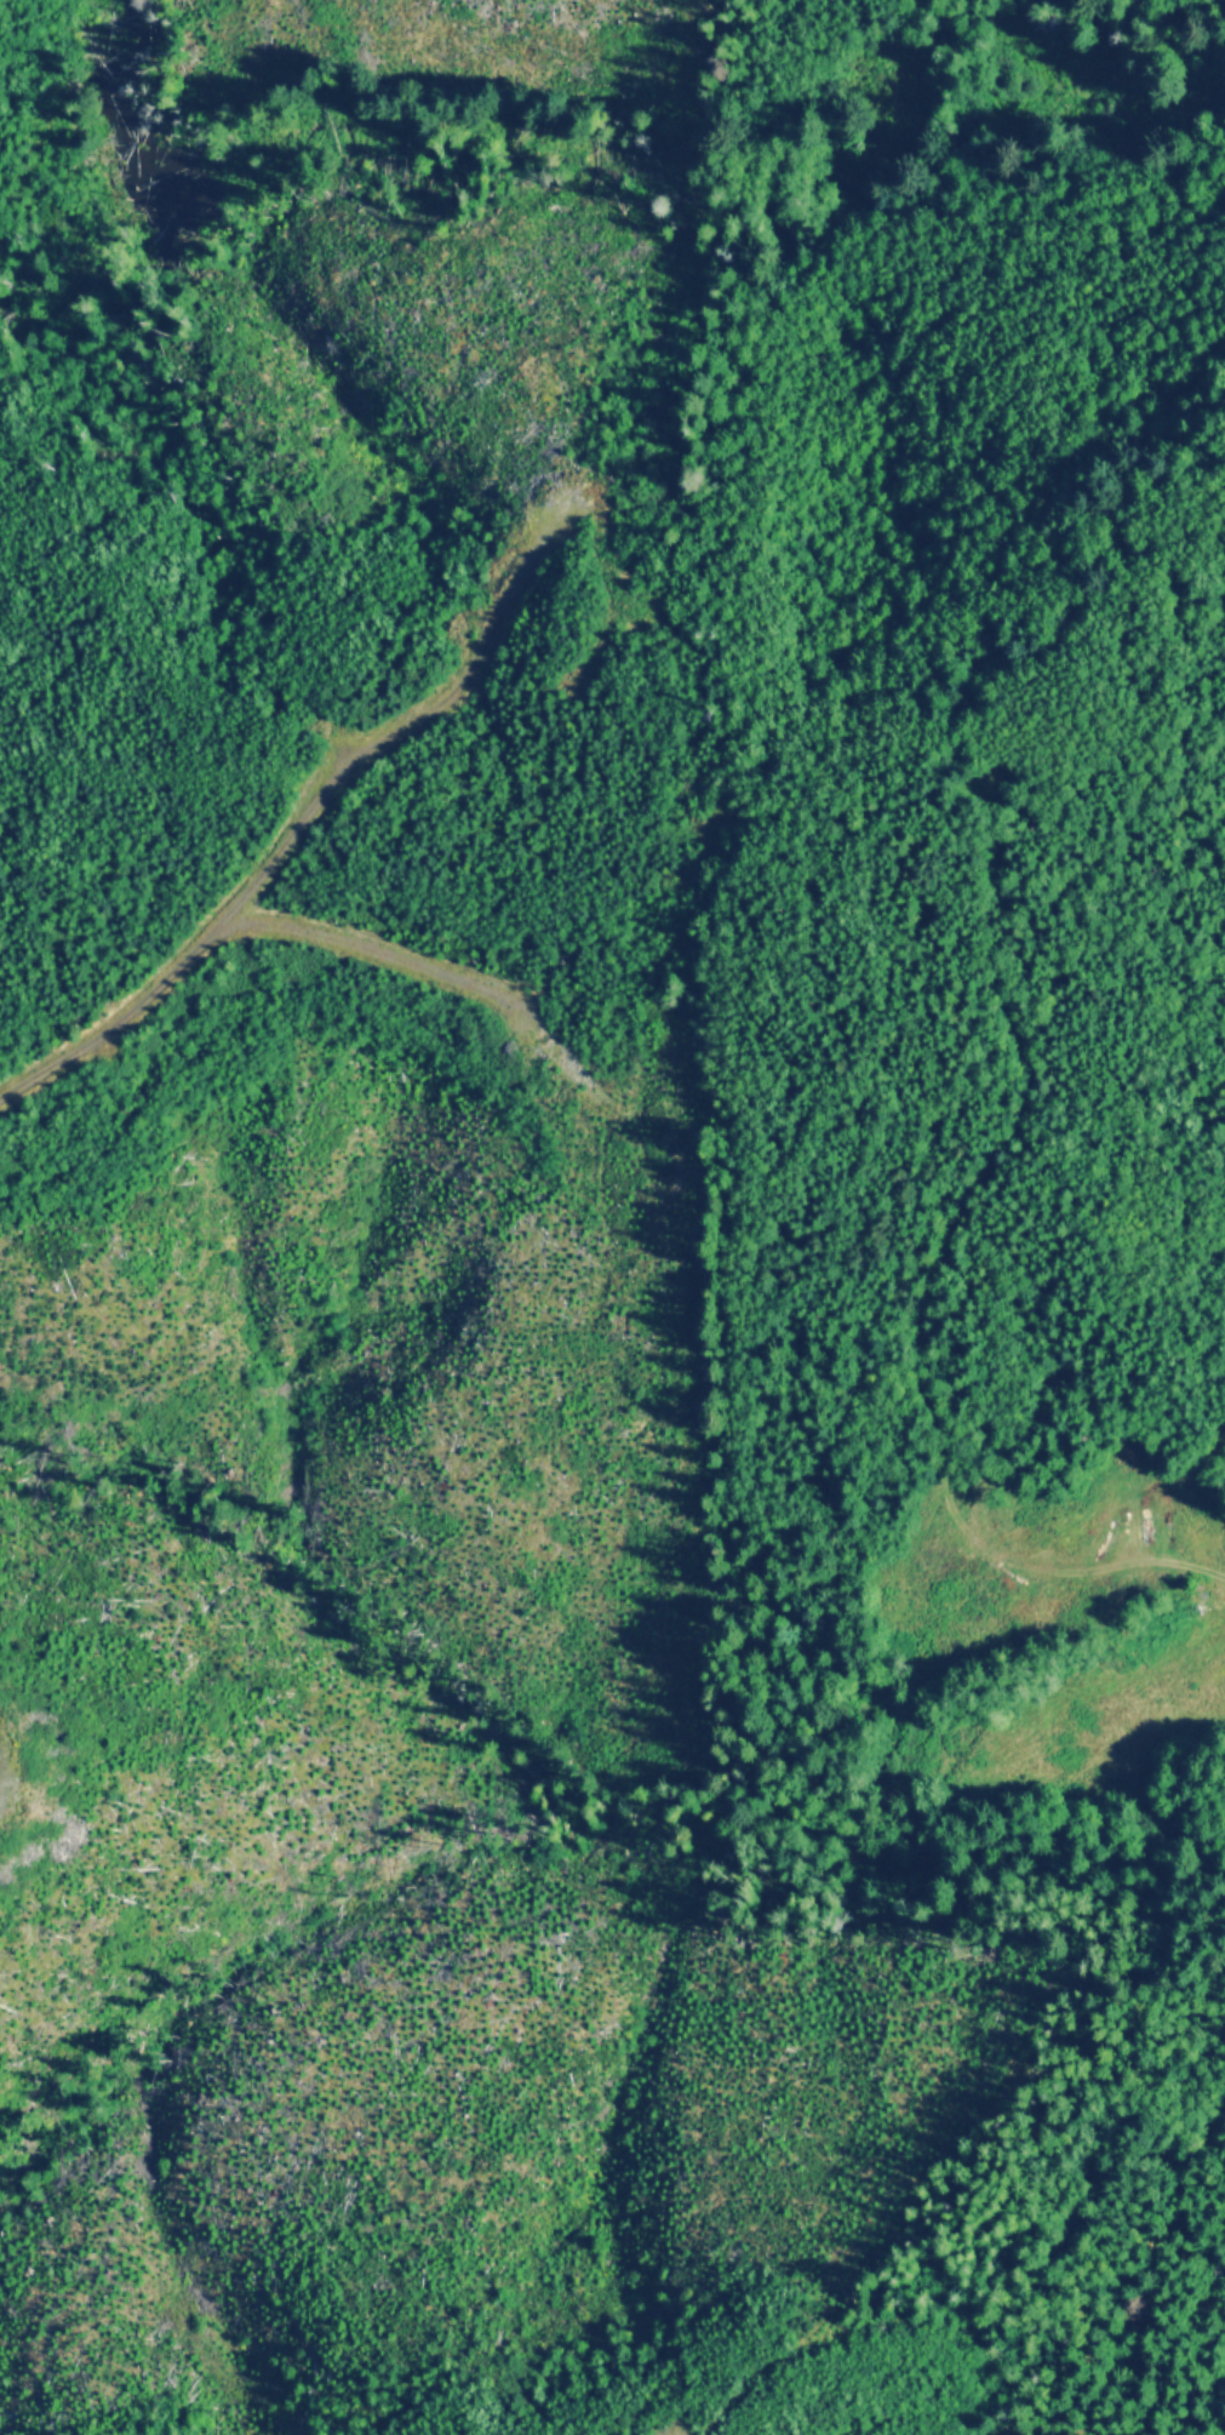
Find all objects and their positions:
road: (304, 813)
road: (384, 954)
road: (53, 1800)

